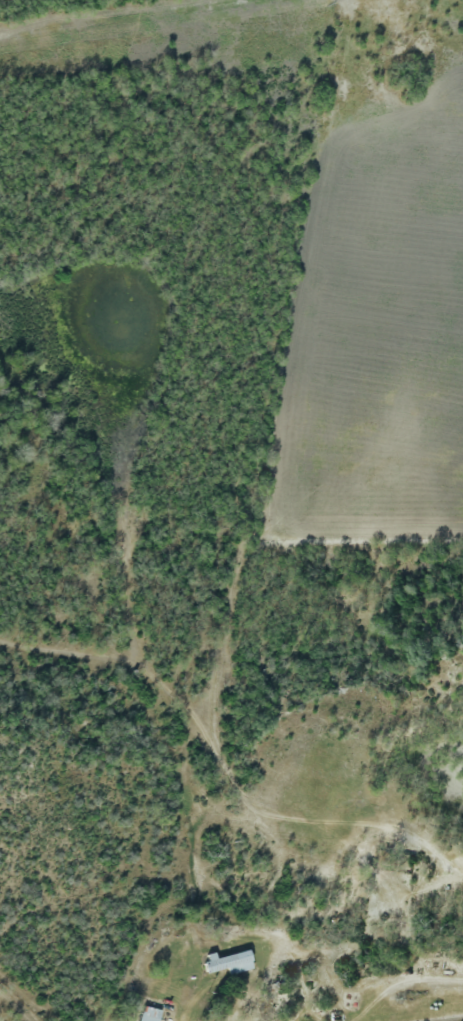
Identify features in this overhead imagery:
building: (227, 962)
building: (149, 1014)

